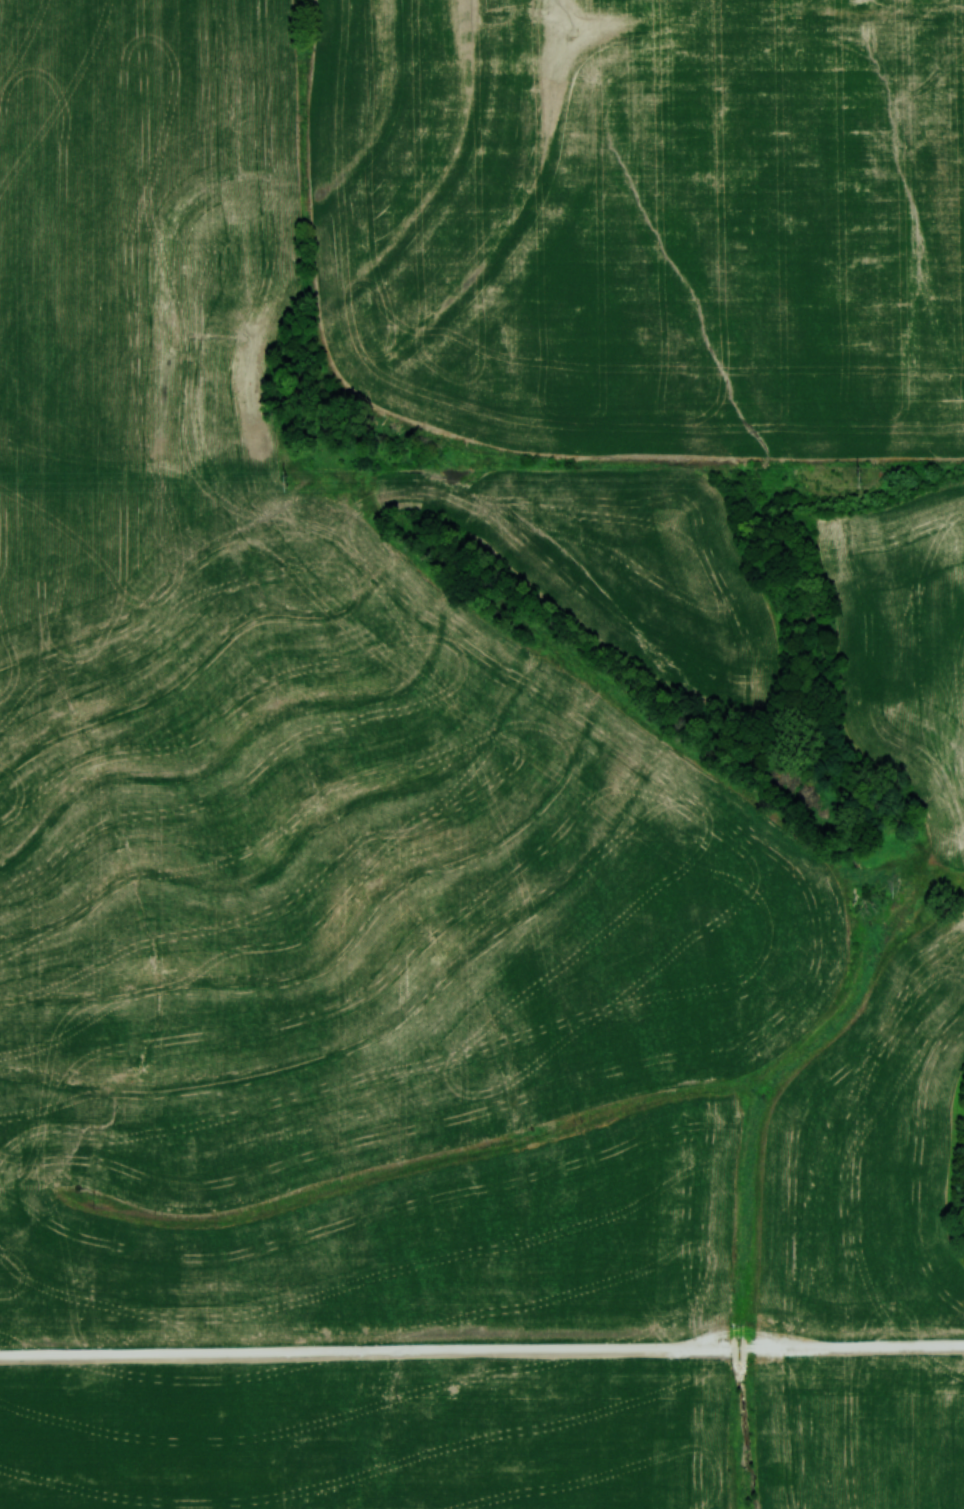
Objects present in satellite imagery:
power tower: (860, 477)
power tower: (287, 480)

